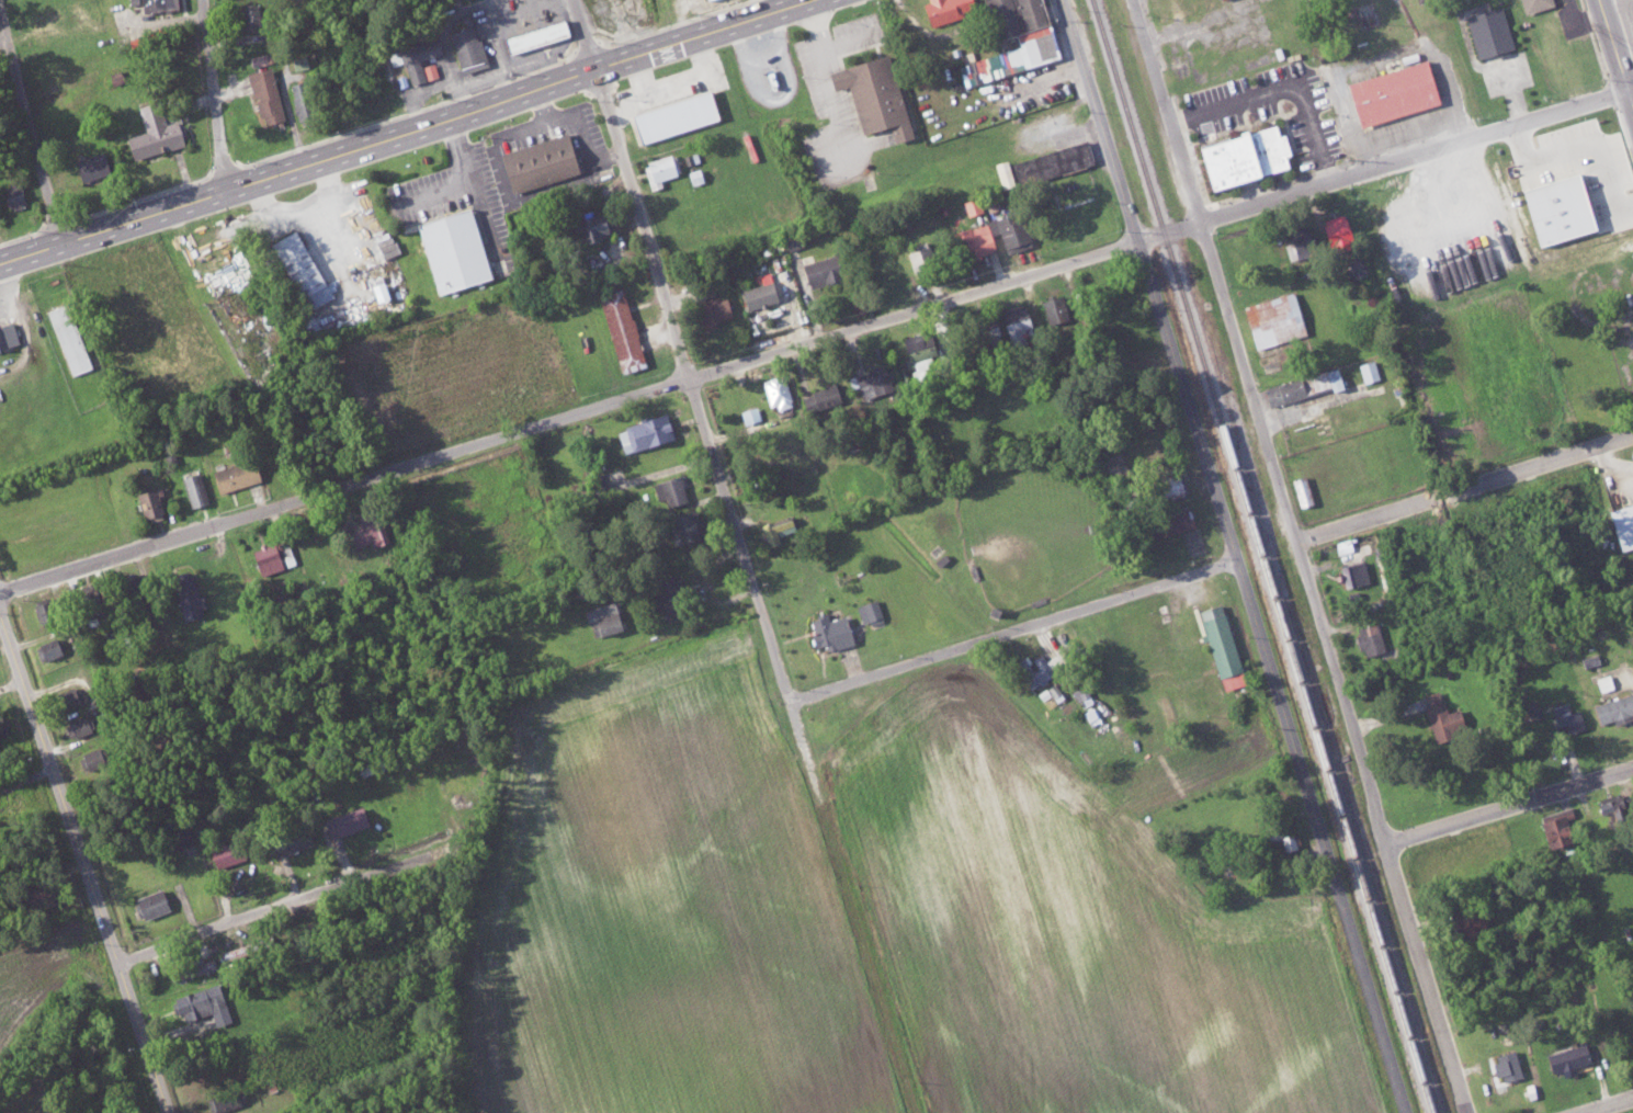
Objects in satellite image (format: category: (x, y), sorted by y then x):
road: (1615, 3)
building: (156, 4)
building: (1534, 4)
building: (944, 9)
building: (247, 16)
building: (1489, 32)
building: (534, 35)
road: (582, 36)
road: (5, 44)
building: (1034, 44)
building: (467, 45)
road: (1618, 48)
road: (1626, 53)
building: (421, 59)
road: (1631, 88)
building: (1392, 93)
building: (873, 94)
road: (214, 95)
building: (265, 95)
building: (673, 116)
road: (31, 123)
building: (152, 133)
road: (405, 134)
building: (1240, 157)
building: (1054, 161)
building: (538, 166)
building: (90, 167)
building: (661, 169)
building: (1001, 174)
building: (13, 195)
building: (1556, 208)
building: (587, 225)
building: (1009, 232)
building: (1335, 234)
building: (974, 241)
building: (1300, 243)
building: (452, 250)
building: (918, 254)
building: (1357, 269)
building: (819, 271)
building: (1632, 273)
building: (299, 276)
building: (704, 289)
building: (760, 296)
building: (1055, 309)
building: (713, 310)
building: (1273, 320)
building: (1016, 323)
building: (621, 330)
building: (985, 330)
building: (7, 336)
building: (68, 339)
road: (814, 340)
building: (915, 342)
building: (920, 364)
building: (1368, 371)
building: (872, 382)
building: (1302, 387)
building: (776, 393)
building: (825, 396)
building: (750, 414)
building: (644, 433)
building: (235, 476)
building: (1164, 485)
building: (195, 489)
building: (1302, 489)
building: (670, 491)
building: (150, 503)
building: (1166, 521)
building: (1621, 522)
building: (684, 523)
building: (776, 527)
building: (364, 535)
building: (282, 548)
road: (1237, 556)
railway: (1263, 556)
road: (1303, 556)
building: (264, 559)
road: (1211, 567)
building: (1354, 572)
road: (756, 592)
building: (670, 597)
building: (188, 598)
building: (870, 611)
building: (603, 617)
building: (830, 631)
building: (1370, 638)
building: (1222, 645)
building: (49, 647)
building: (1033, 669)
road: (12, 688)
building: (66, 697)
building: (1615, 707)
building: (1533, 708)
building: (1441, 715)
building: (1566, 717)
building: (80, 724)
building: (4, 727)
building: (1606, 804)
road: (1508, 805)
building: (344, 820)
building: (1557, 828)
building: (1286, 834)
building: (181, 837)
building: (288, 840)
building: (225, 853)
road: (83, 861)
building: (46, 897)
building: (150, 902)
road: (276, 908)
building: (1465, 924)
building: (191, 968)
building: (202, 1003)
building: (1568, 1056)
building: (1506, 1064)
building: (225, 1099)
road: (1610, 1105)

